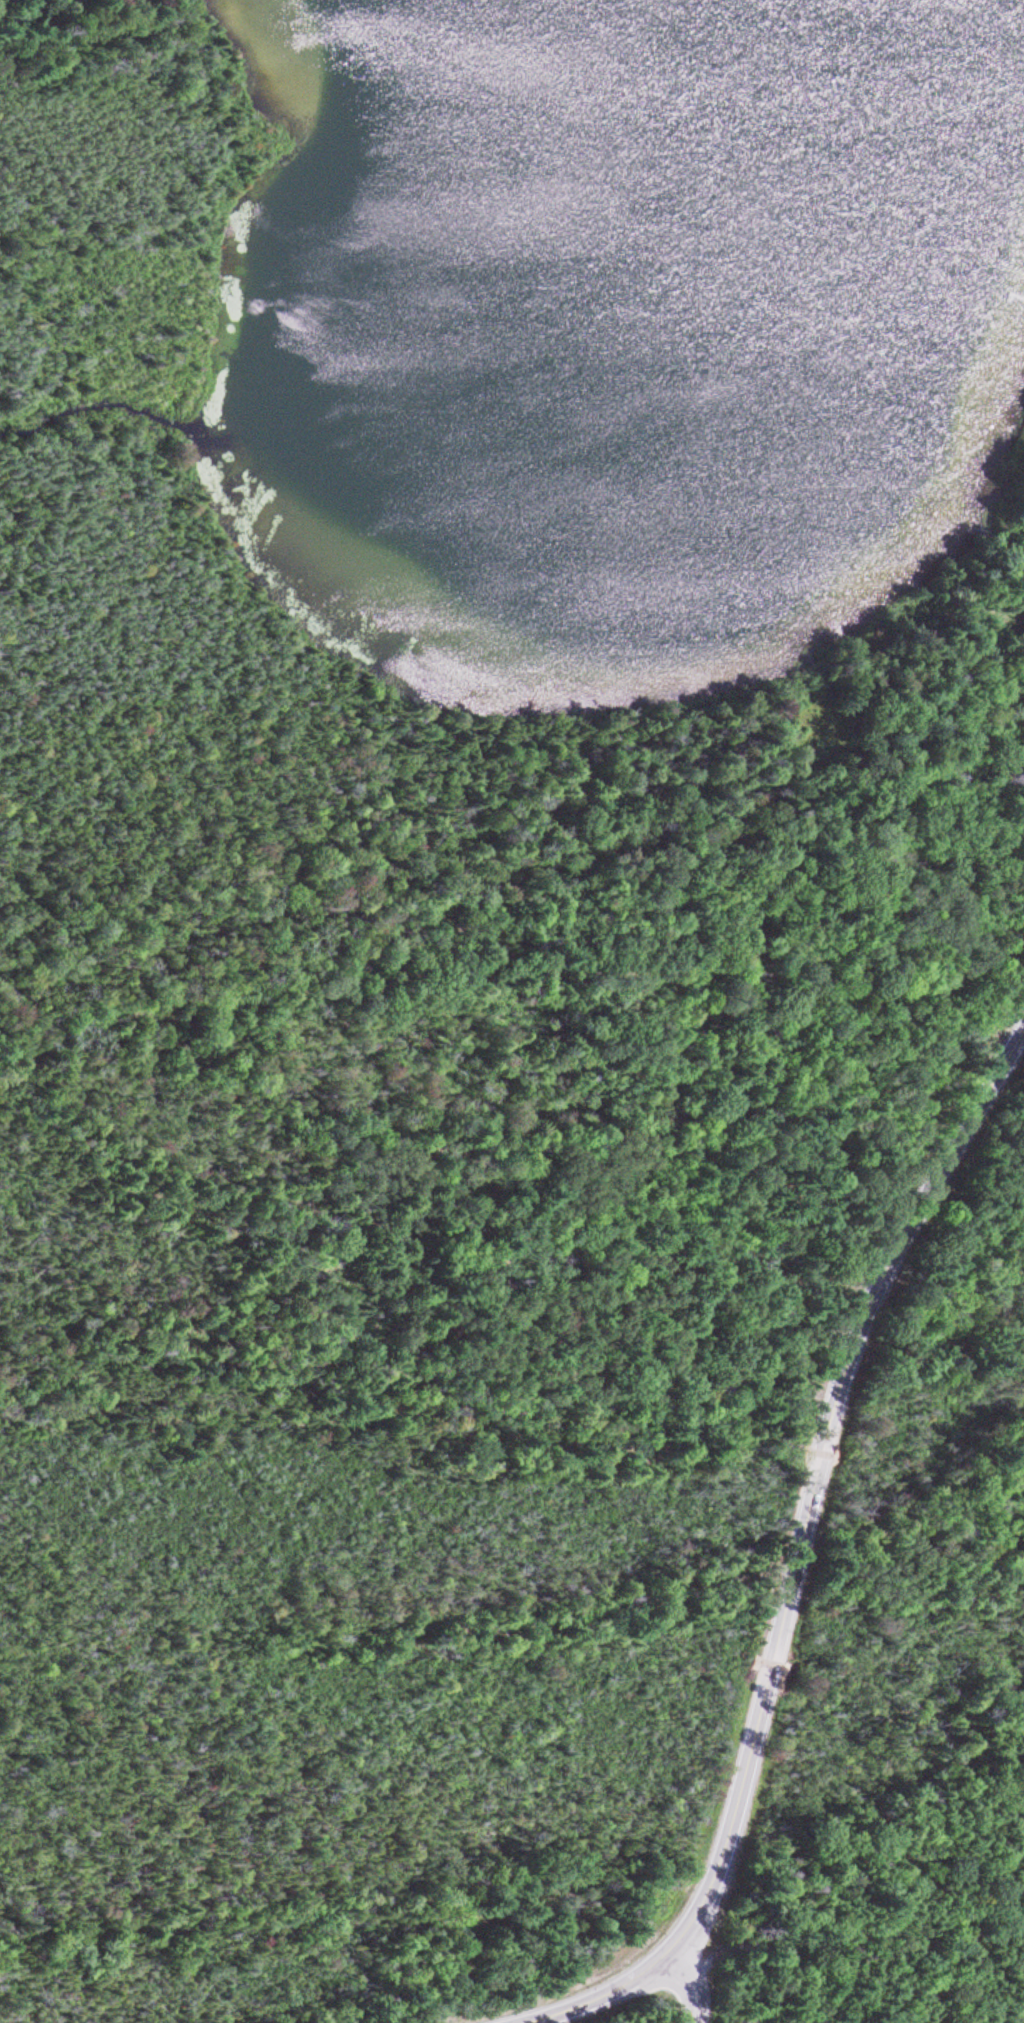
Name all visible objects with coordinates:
road: (797, 1554)
road: (987, 1920)
road: (813, 1937)
road: (688, 1985)

